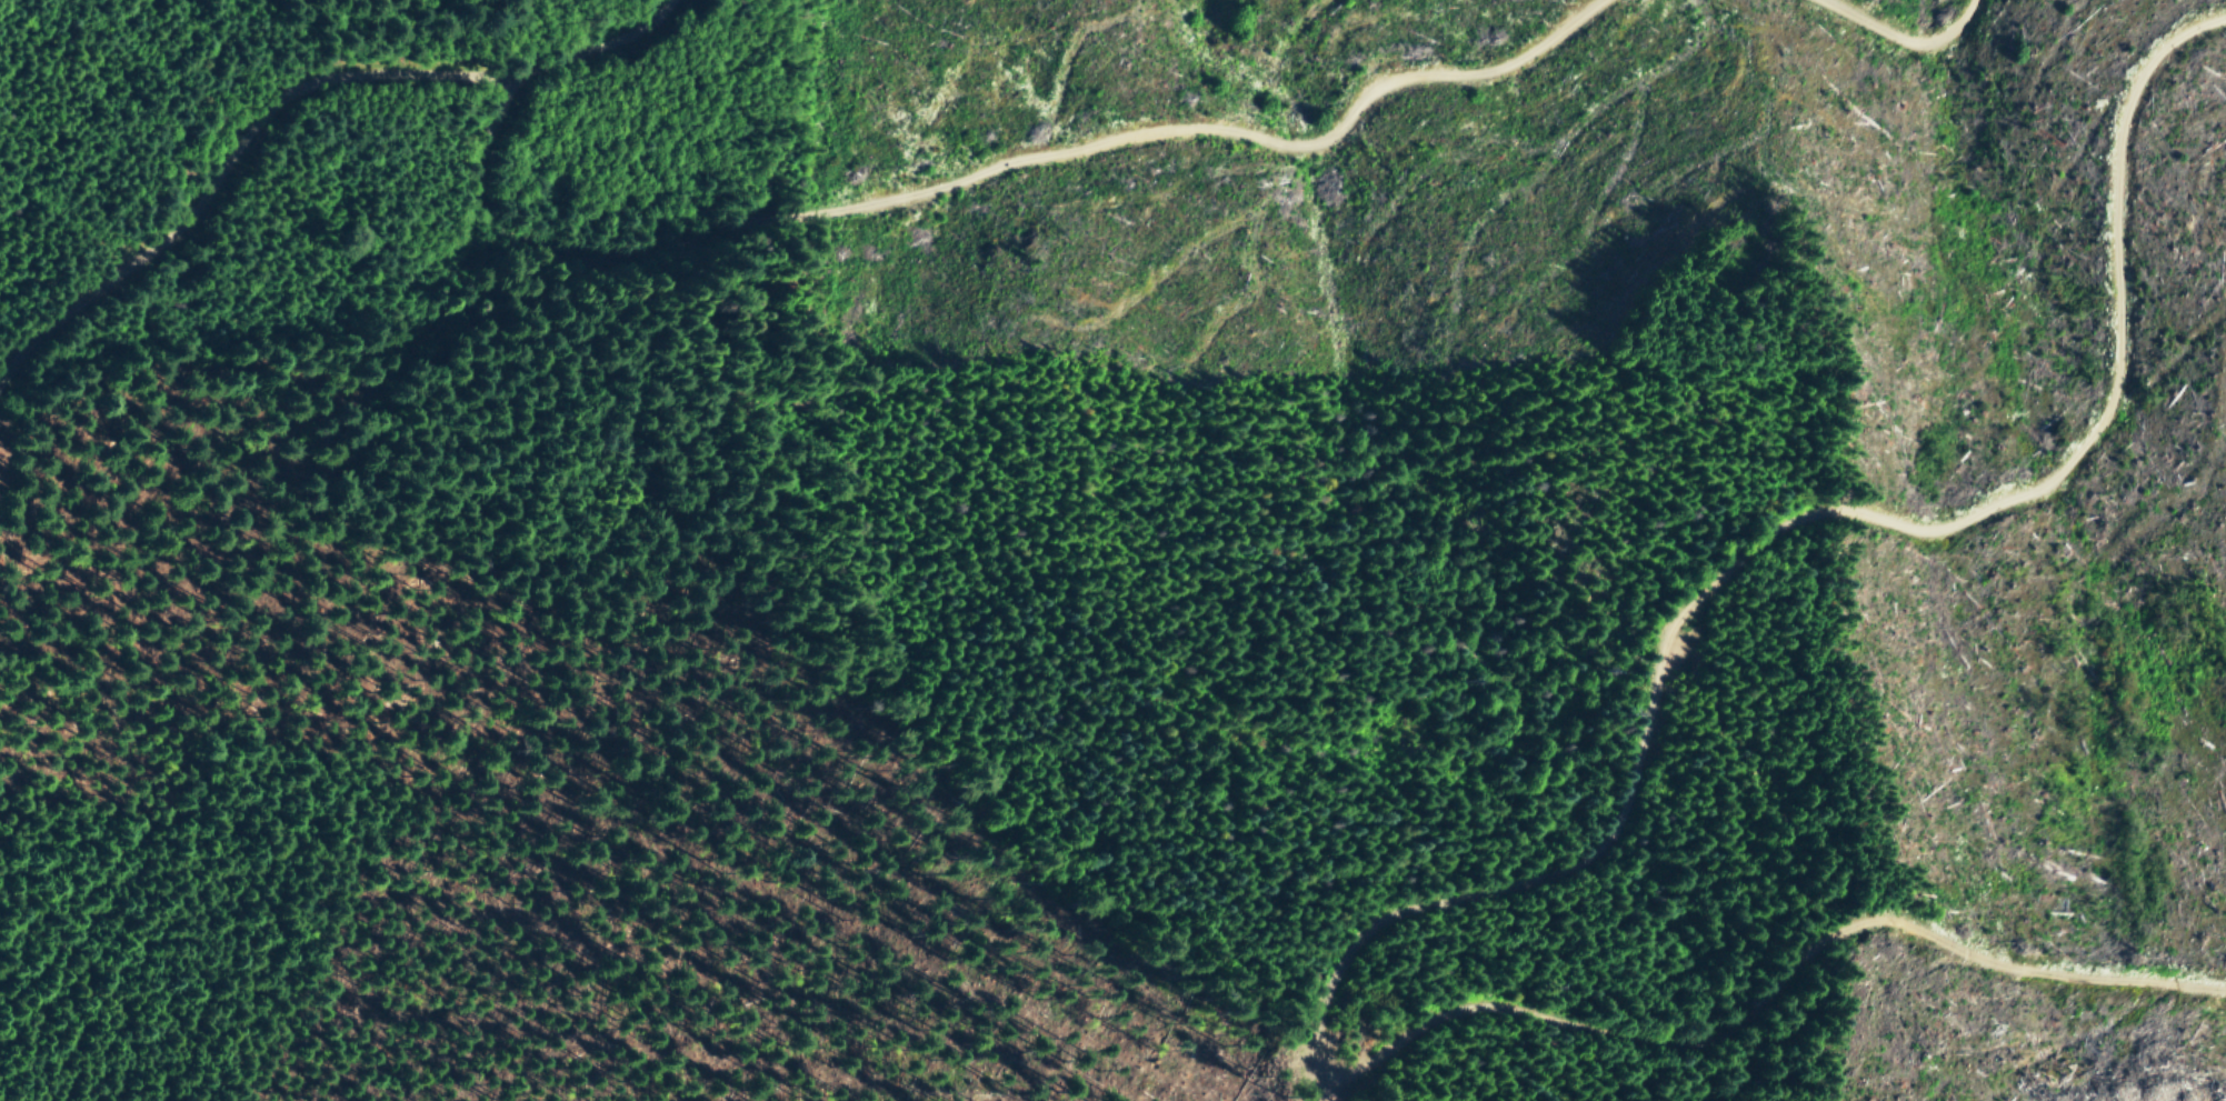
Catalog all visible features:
road: (1900, 36)
road: (230, 178)
road: (898, 189)
road: (1518, 877)

